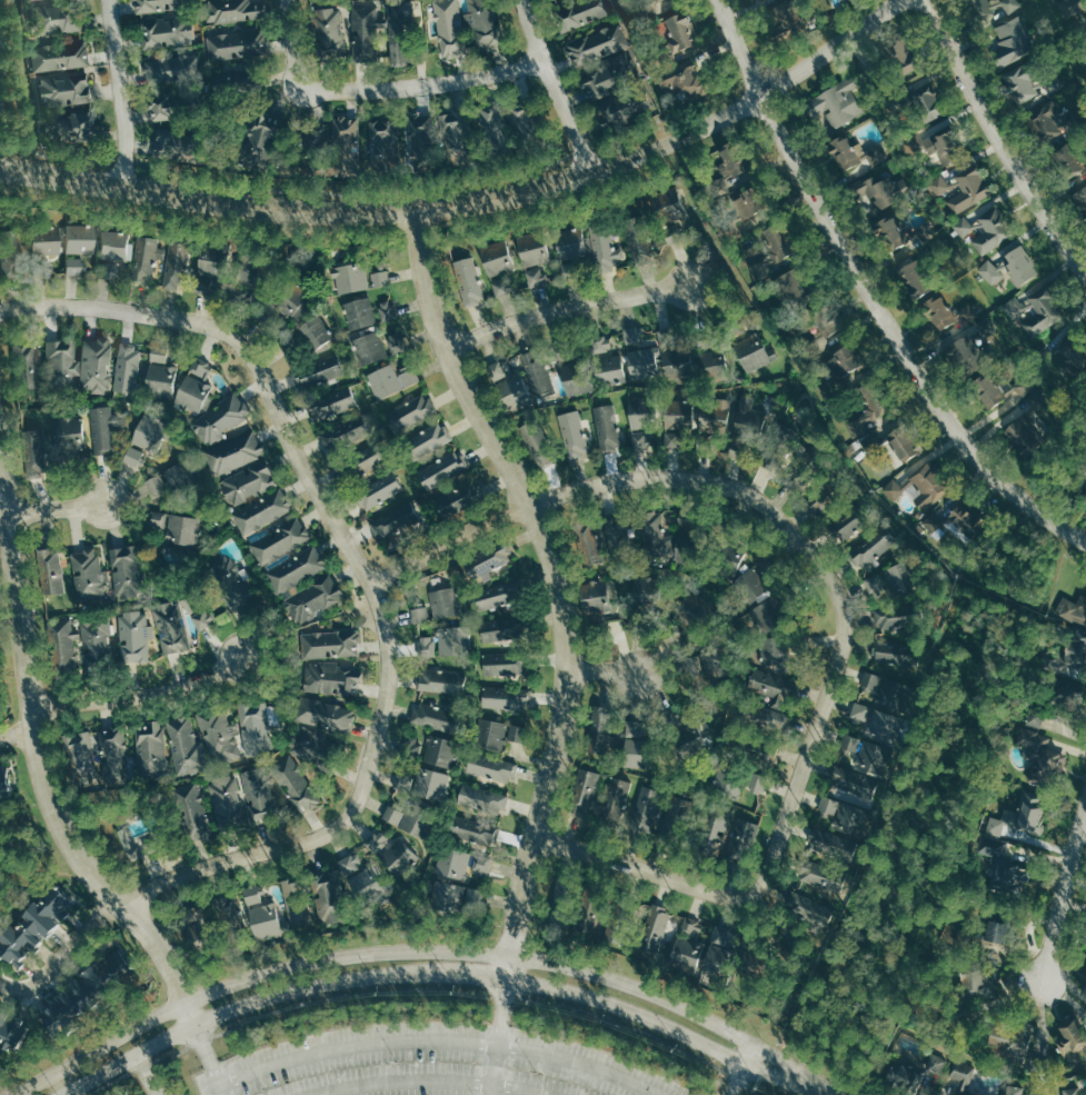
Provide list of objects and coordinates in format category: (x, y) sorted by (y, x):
building: (1012, 4)
building: (156, 6)
building: (983, 8)
building: (237, 11)
building: (581, 13)
building: (406, 14)
building: (784, 17)
building: (56, 19)
building: (482, 22)
building: (449, 28)
building: (328, 30)
building: (367, 30)
building: (169, 32)
building: (679, 33)
building: (1014, 41)
building: (239, 44)
building: (596, 46)
road: (738, 49)
building: (398, 51)
parking lot: (1, 54)
building: (59, 56)
building: (900, 56)
building: (180, 64)
building: (684, 80)
building: (599, 82)
building: (1022, 84)
road: (550, 86)
road: (375, 88)
building: (62, 89)
road: (120, 90)
building: (925, 96)
building: (838, 102)
building: (160, 109)
building: (617, 110)
building: (521, 119)
building: (1052, 121)
building: (491, 122)
building: (74, 129)
building: (259, 136)
building: (315, 136)
building: (456, 137)
building: (386, 138)
road: (1002, 138)
building: (422, 140)
building: (175, 142)
building: (347, 142)
building: (937, 145)
building: (846, 152)
building: (1068, 160)
building: (727, 171)
building: (945, 188)
road: (280, 189)
building: (969, 190)
building: (870, 192)
building: (1082, 197)
road: (474, 198)
building: (747, 202)
building: (668, 206)
building: (898, 230)
building: (985, 230)
building: (42, 241)
building: (569, 242)
building: (113, 245)
building: (532, 249)
building: (605, 251)
building: (773, 251)
building: (497, 258)
building: (147, 259)
building: (1019, 263)
building: (176, 265)
building: (73, 266)
building: (207, 267)
building: (990, 271)
building: (245, 275)
building: (536, 276)
building: (350, 277)
building: (381, 278)
building: (911, 279)
building: (469, 282)
building: (791, 289)
building: (293, 302)
building: (1014, 307)
building: (388, 310)
building: (361, 312)
building: (949, 312)
building: (1043, 313)
road: (566, 315)
building: (317, 334)
building: (635, 337)
road: (896, 342)
building: (600, 344)
building: (371, 347)
building: (973, 349)
building: (754, 352)
building: (159, 356)
building: (710, 358)
building: (841, 361)
building: (644, 362)
building: (62, 366)
building: (96, 366)
building: (675, 366)
building: (27, 368)
building: (127, 369)
building: (496, 370)
building: (608, 370)
building: (319, 371)
building: (537, 371)
building: (161, 378)
building: (392, 380)
building: (197, 384)
building: (577, 385)
building: (986, 390)
building: (511, 394)
building: (333, 404)
building: (410, 412)
building: (748, 414)
building: (677, 415)
building: (221, 418)
building: (711, 419)
building: (614, 420)
building: (865, 420)
building: (1027, 428)
building: (103, 429)
building: (150, 430)
building: (69, 435)
building: (574, 435)
building: (785, 435)
building: (531, 436)
building: (427, 440)
building: (642, 441)
building: (671, 441)
building: (900, 442)
building: (34, 451)
building: (236, 452)
building: (134, 457)
road: (306, 458)
building: (363, 461)
building: (444, 469)
building: (166, 480)
building: (248, 482)
building: (929, 486)
building: (893, 489)
building: (379, 490)
building: (457, 500)
building: (817, 501)
road: (58, 506)
building: (262, 511)
road: (770, 514)
building: (963, 518)
building: (158, 519)
building: (395, 524)
building: (846, 525)
building: (472, 528)
building: (183, 529)
building: (660, 539)
building: (281, 541)
building: (588, 542)
building: (874, 547)
building: (729, 557)
building: (489, 561)
building: (298, 569)
building: (50, 570)
building: (124, 571)
building: (88, 577)
building: (889, 581)
road: (559, 584)
building: (232, 585)
building: (751, 586)
building: (636, 589)
building: (496, 596)
building: (313, 600)
building: (445, 603)
building: (1073, 609)
building: (420, 615)
building: (764, 617)
building: (890, 617)
building: (202, 618)
building: (171, 627)
building: (499, 629)
building: (134, 636)
building: (456, 640)
building: (97, 641)
building: (63, 643)
building: (330, 644)
building: (427, 646)
building: (1075, 649)
building: (776, 651)
building: (894, 655)
building: (502, 663)
road: (605, 670)
building: (331, 679)
building: (440, 680)
building: (770, 685)
building: (885, 687)
road: (136, 694)
building: (506, 697)
building: (861, 710)
building: (325, 715)
building: (765, 715)
building: (434, 717)
building: (1036, 718)
building: (884, 723)
road: (14, 726)
building: (255, 726)
building: (600, 731)
building: (491, 734)
building: (203, 741)
building: (307, 744)
building: (635, 744)
building: (412, 747)
building: (152, 749)
building: (441, 754)
building: (80, 755)
building: (117, 756)
building: (1040, 756)
building: (865, 757)
road: (39, 766)
road: (928, 766)
building: (491, 767)
building: (854, 779)
building: (405, 780)
building: (1, 782)
building: (728, 783)
building: (431, 784)
building: (756, 784)
building: (296, 785)
building: (585, 793)
building: (261, 795)
building: (616, 798)
building: (482, 799)
building: (229, 803)
building: (830, 805)
building: (193, 810)
building: (392, 815)
building: (850, 820)
building: (1018, 820)
building: (644, 822)
building: (414, 825)
building: (714, 829)
building: (472, 830)
building: (745, 835)
building: (376, 843)
building: (400, 856)
road: (232, 862)
building: (351, 863)
building: (454, 863)
building: (481, 865)
building: (1002, 865)
road: (644, 872)
building: (358, 880)
road: (1062, 890)
building: (831, 892)
building: (447, 896)
building: (327, 898)
building: (229, 914)
building: (268, 922)
building: (33, 924)
building: (691, 926)
building: (652, 929)
building: (1085, 932)
building: (995, 935)
road: (794, 944)
road: (419, 950)
building: (684, 955)
road: (62, 956)
building: (727, 958)
road: (441, 974)
building: (91, 979)
building: (979, 985)
building: (1084, 989)
building: (61, 1012)
building: (10, 1034)
road: (498, 1038)
building: (1069, 1038)
road: (437, 1039)
building: (1012, 1043)
road: (208, 1058)
parking lot: (431, 1064)
road: (743, 1069)
building: (913, 1072)
road: (146, 1075)
building: (962, 1077)
road: (429, 1079)
building: (1013, 1089)
building: (1070, 1092)
road: (826, 1093)
road: (68, 1094)
parking lot: (181, 1094)

